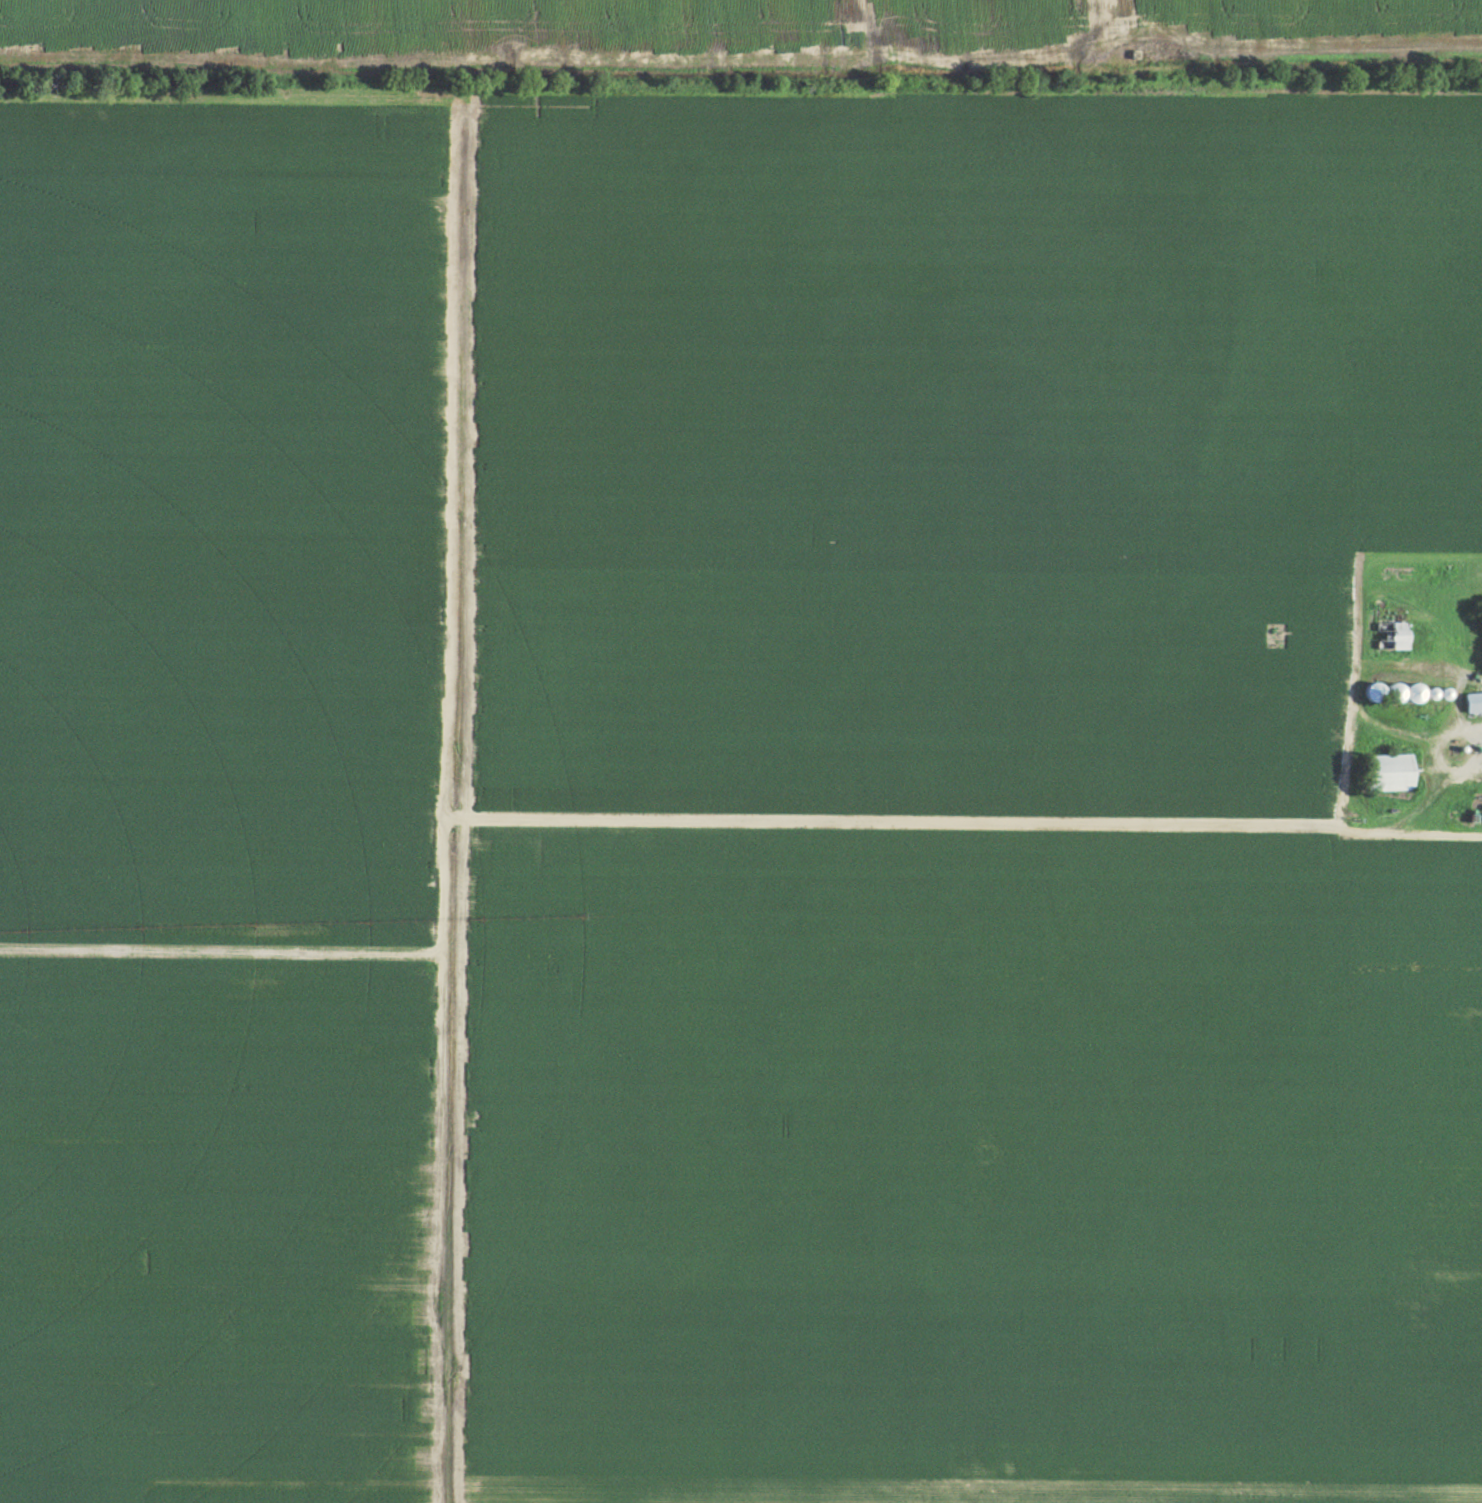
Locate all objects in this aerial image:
road: (1210, 90)
building: (1473, 704)
building: (1388, 774)

